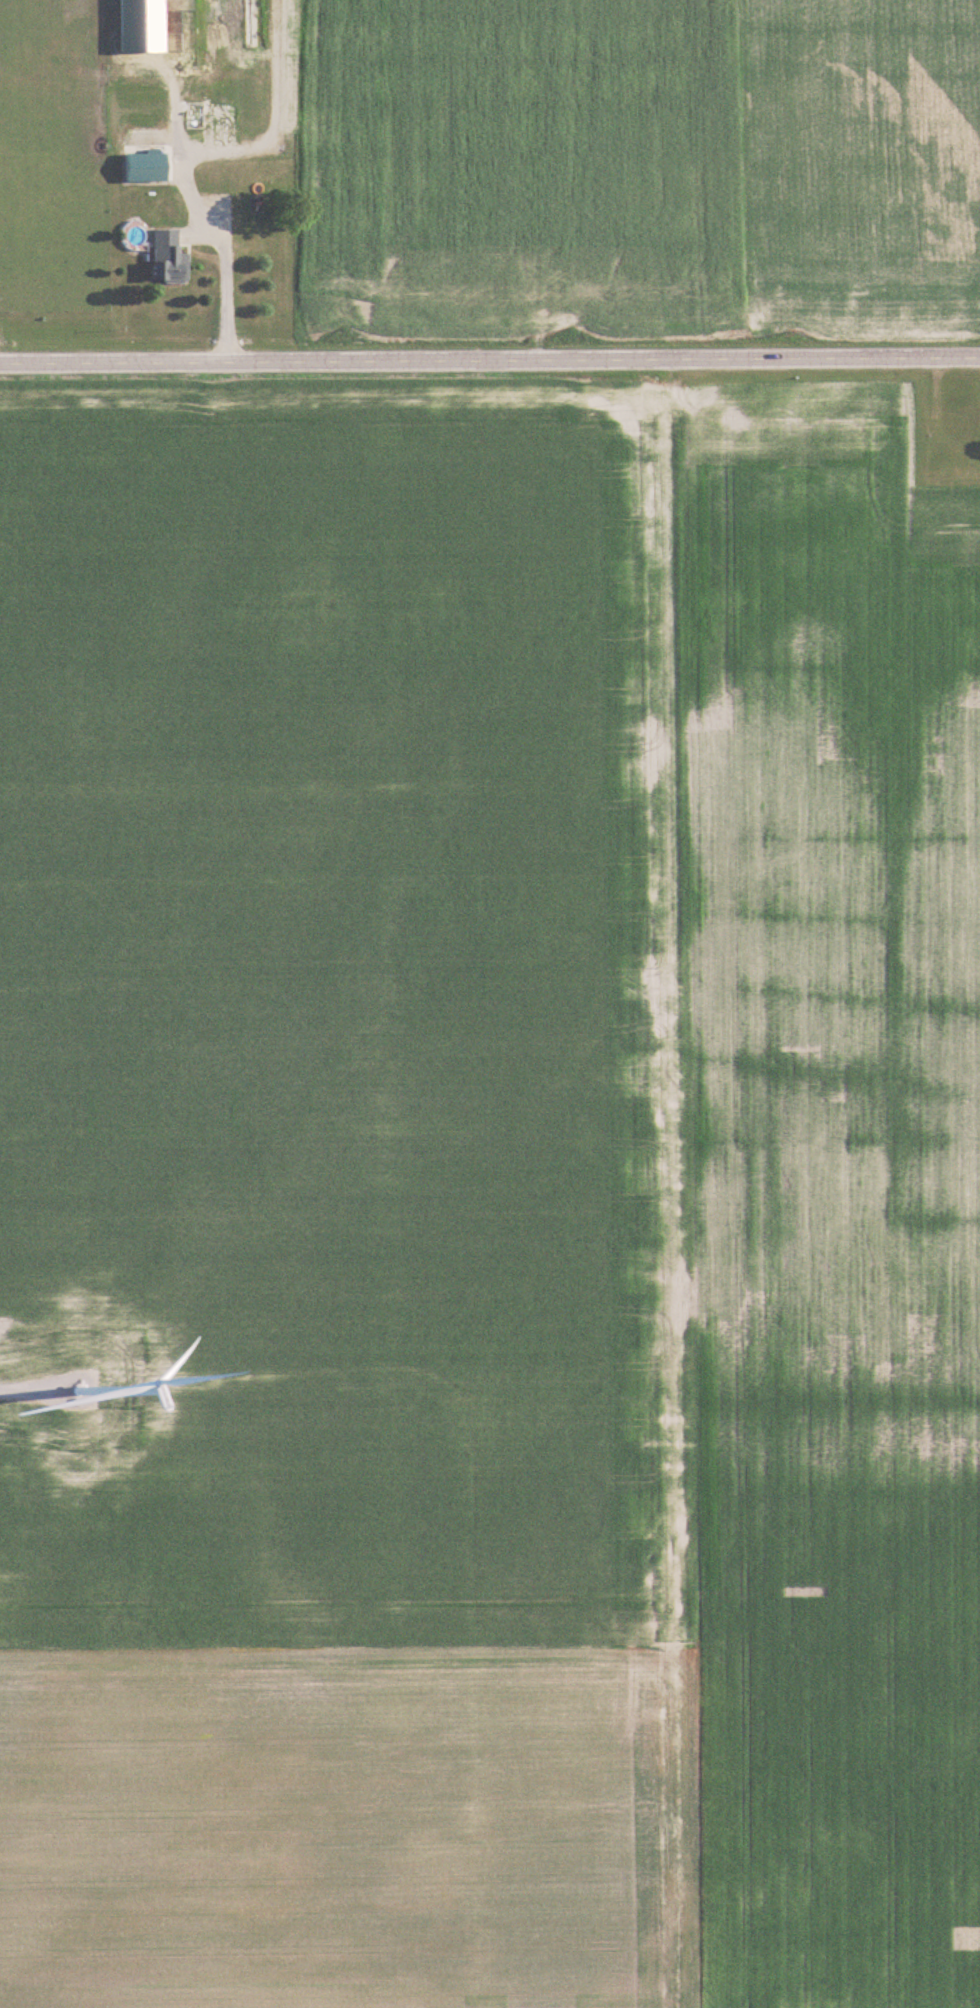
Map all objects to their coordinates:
building: (238, 20)
building: (195, 116)
road: (218, 246)
building: (170, 258)
road: (490, 360)
wind turbine: (30, 1373)

